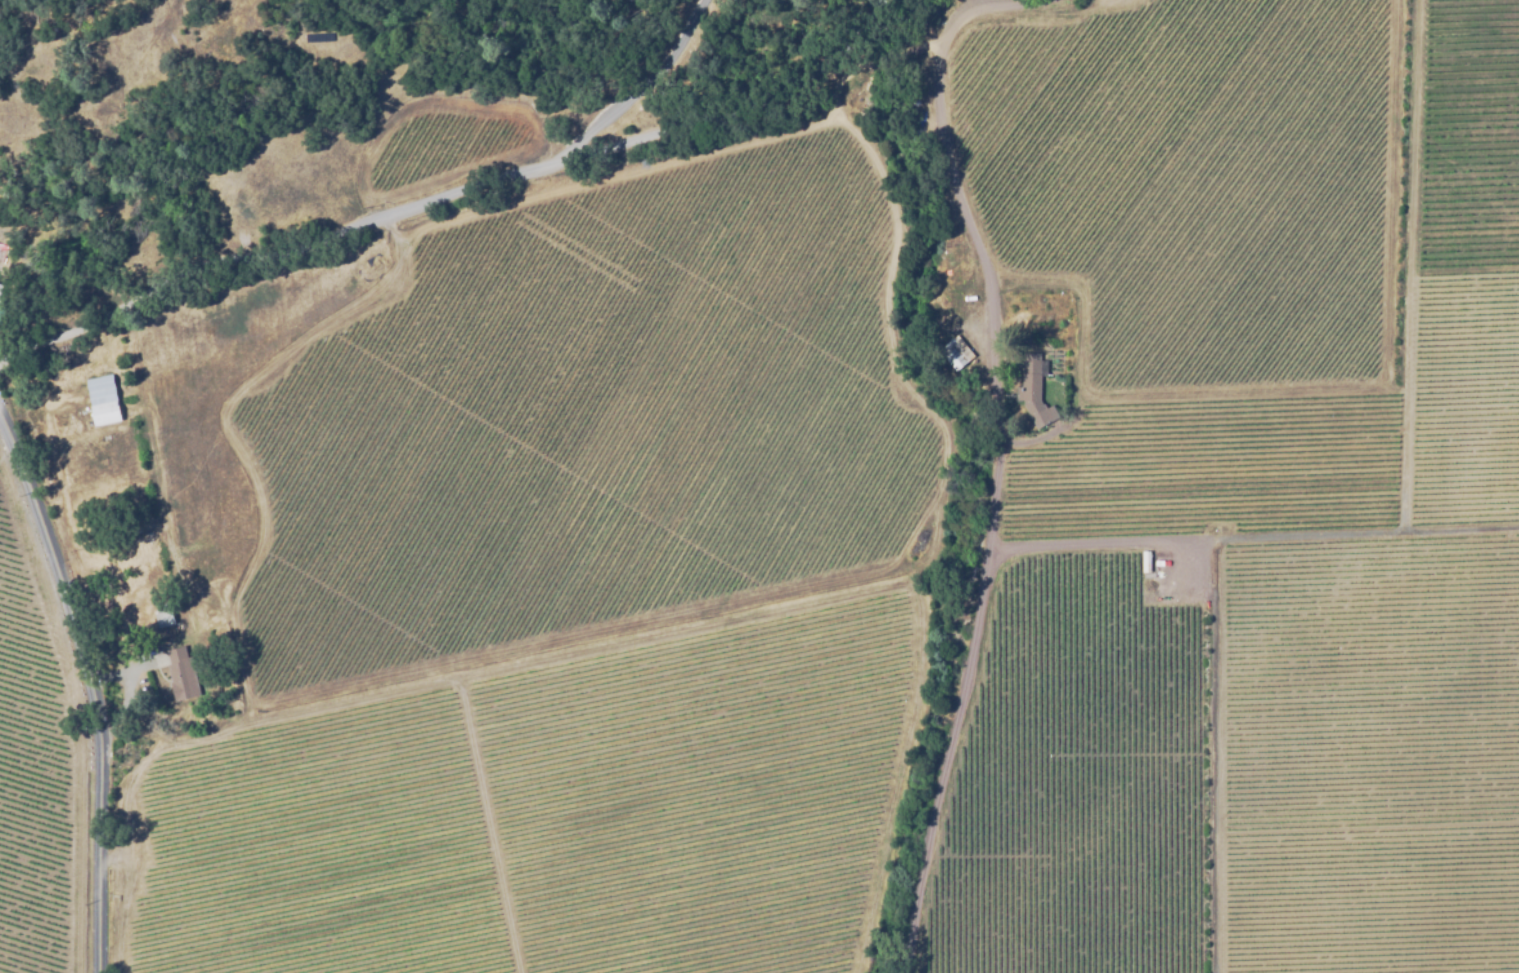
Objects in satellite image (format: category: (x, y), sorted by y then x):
building: (915, 63)
road: (628, 89)
road: (953, 190)
road: (447, 194)
building: (947, 264)
building: (0, 286)
building: (958, 353)
building: (1033, 389)
building: (104, 400)
building: (108, 445)
building: (148, 536)
road: (1217, 606)
building: (165, 621)
building: (181, 674)
road: (86, 702)
road: (944, 708)
building: (182, 716)

